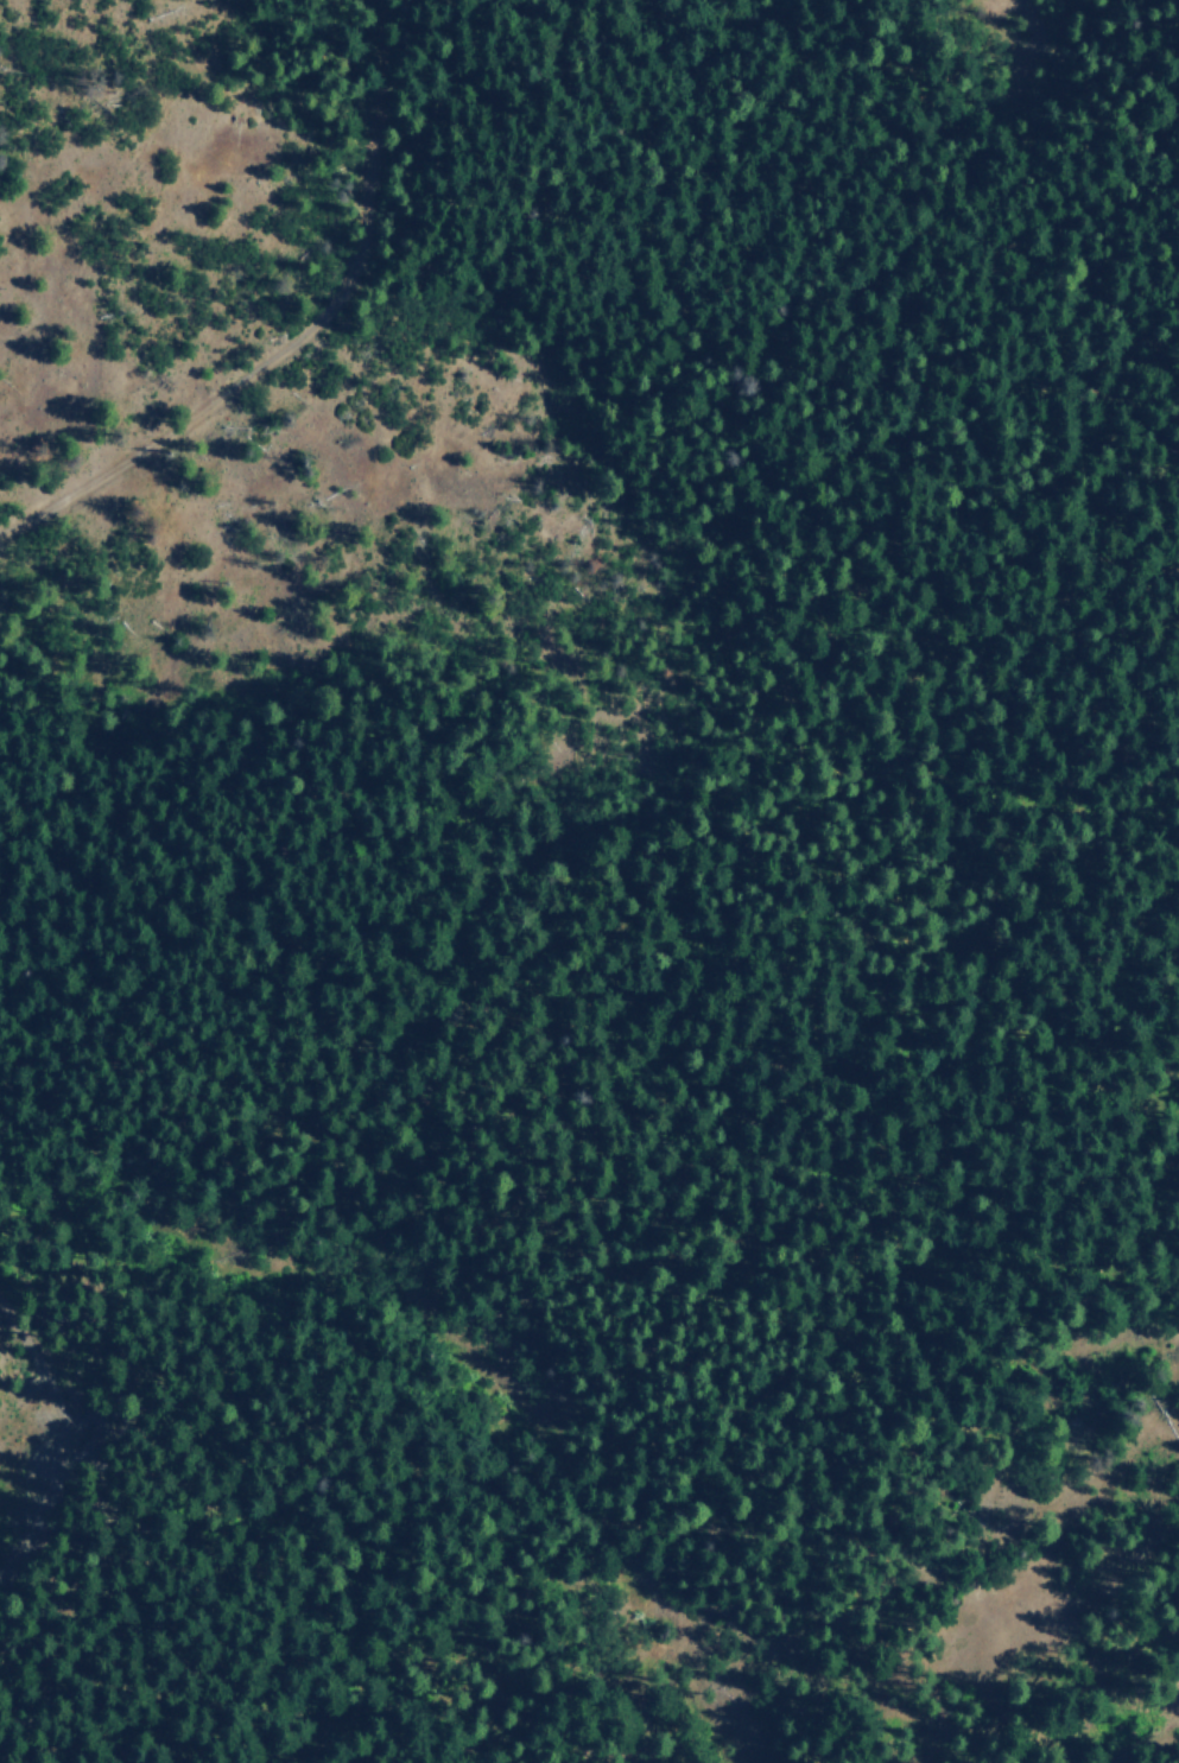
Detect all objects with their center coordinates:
road: (300, 337)
road: (59, 1442)
road: (1154, 1727)
road: (1133, 1750)

